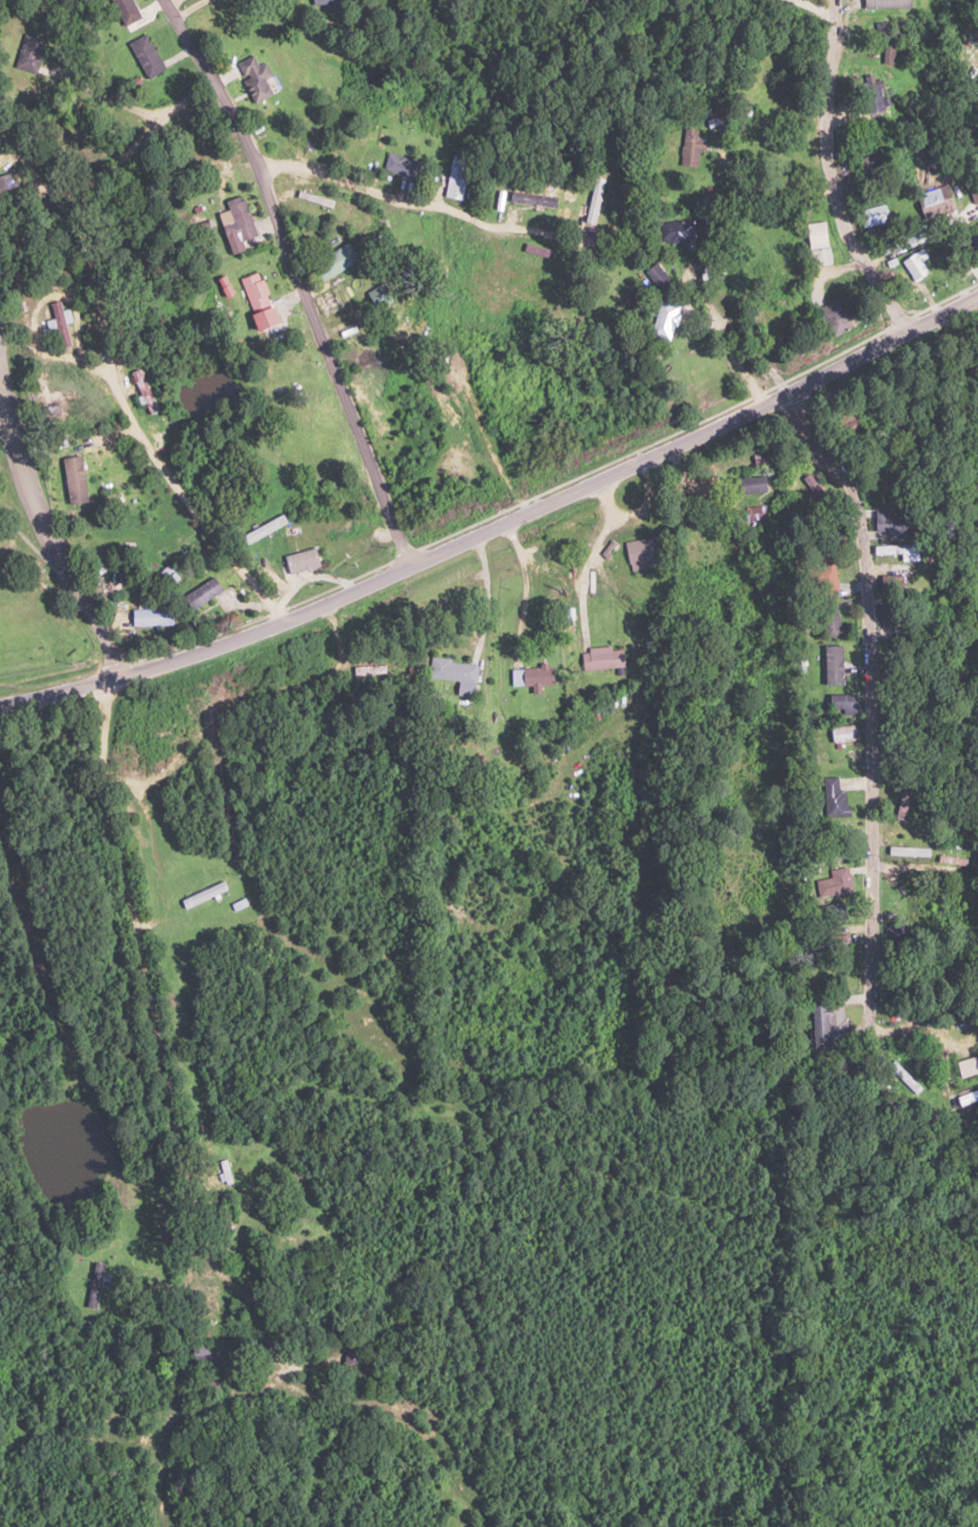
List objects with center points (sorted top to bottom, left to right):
building: (324, 2)
road: (190, 8)
building: (124, 10)
road: (821, 12)
building: (890, 29)
building: (30, 53)
building: (887, 53)
building: (144, 54)
building: (254, 79)
building: (871, 95)
building: (727, 117)
building: (690, 149)
building: (401, 165)
building: (455, 174)
road: (773, 176)
road: (830, 184)
building: (7, 186)
road: (407, 199)
building: (935, 201)
building: (873, 216)
building: (235, 219)
building: (676, 230)
building: (974, 235)
building: (333, 261)
building: (917, 264)
building: (656, 274)
road: (299, 278)
building: (252, 292)
building: (835, 317)
building: (664, 319)
building: (59, 324)
building: (773, 324)
road: (721, 338)
road: (102, 352)
road: (863, 356)
building: (749, 484)
building: (809, 485)
building: (887, 522)
road: (52, 545)
building: (639, 552)
building: (301, 563)
building: (829, 575)
road: (382, 580)
building: (201, 592)
building: (149, 616)
building: (829, 618)
building: (601, 658)
building: (832, 664)
building: (449, 670)
building: (530, 676)
building: (841, 703)
road: (869, 703)
building: (841, 733)
building: (834, 798)
building: (915, 850)
building: (947, 860)
building: (834, 882)
building: (202, 894)
road: (478, 936)
building: (830, 942)
building: (826, 1021)
building: (969, 1062)
building: (226, 1171)
building: (97, 1286)
building: (203, 1357)
building: (353, 1362)
building: (212, 1382)

